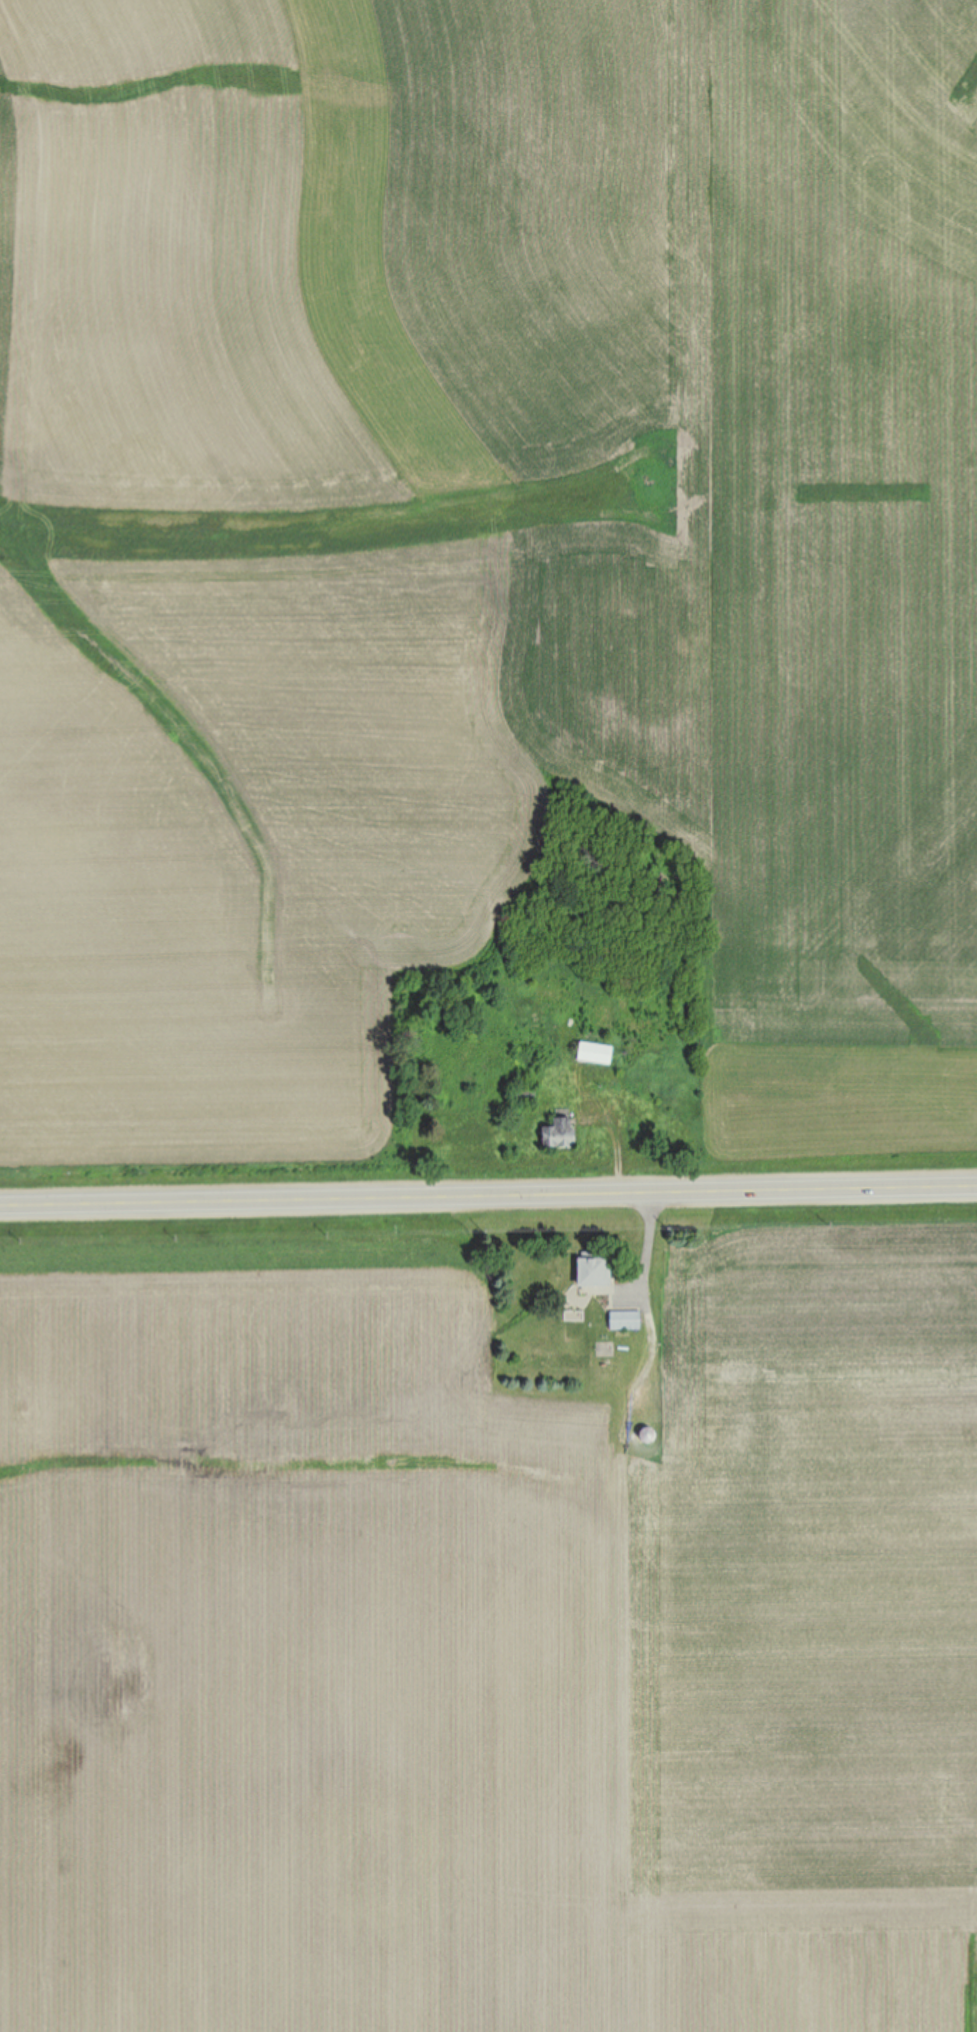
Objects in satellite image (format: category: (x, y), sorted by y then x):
building: (597, 1053)
building: (524, 1094)
building: (561, 1134)
road: (488, 1201)
building: (595, 1272)
building: (626, 1320)
building: (649, 1436)
crop: (486, 1635)

